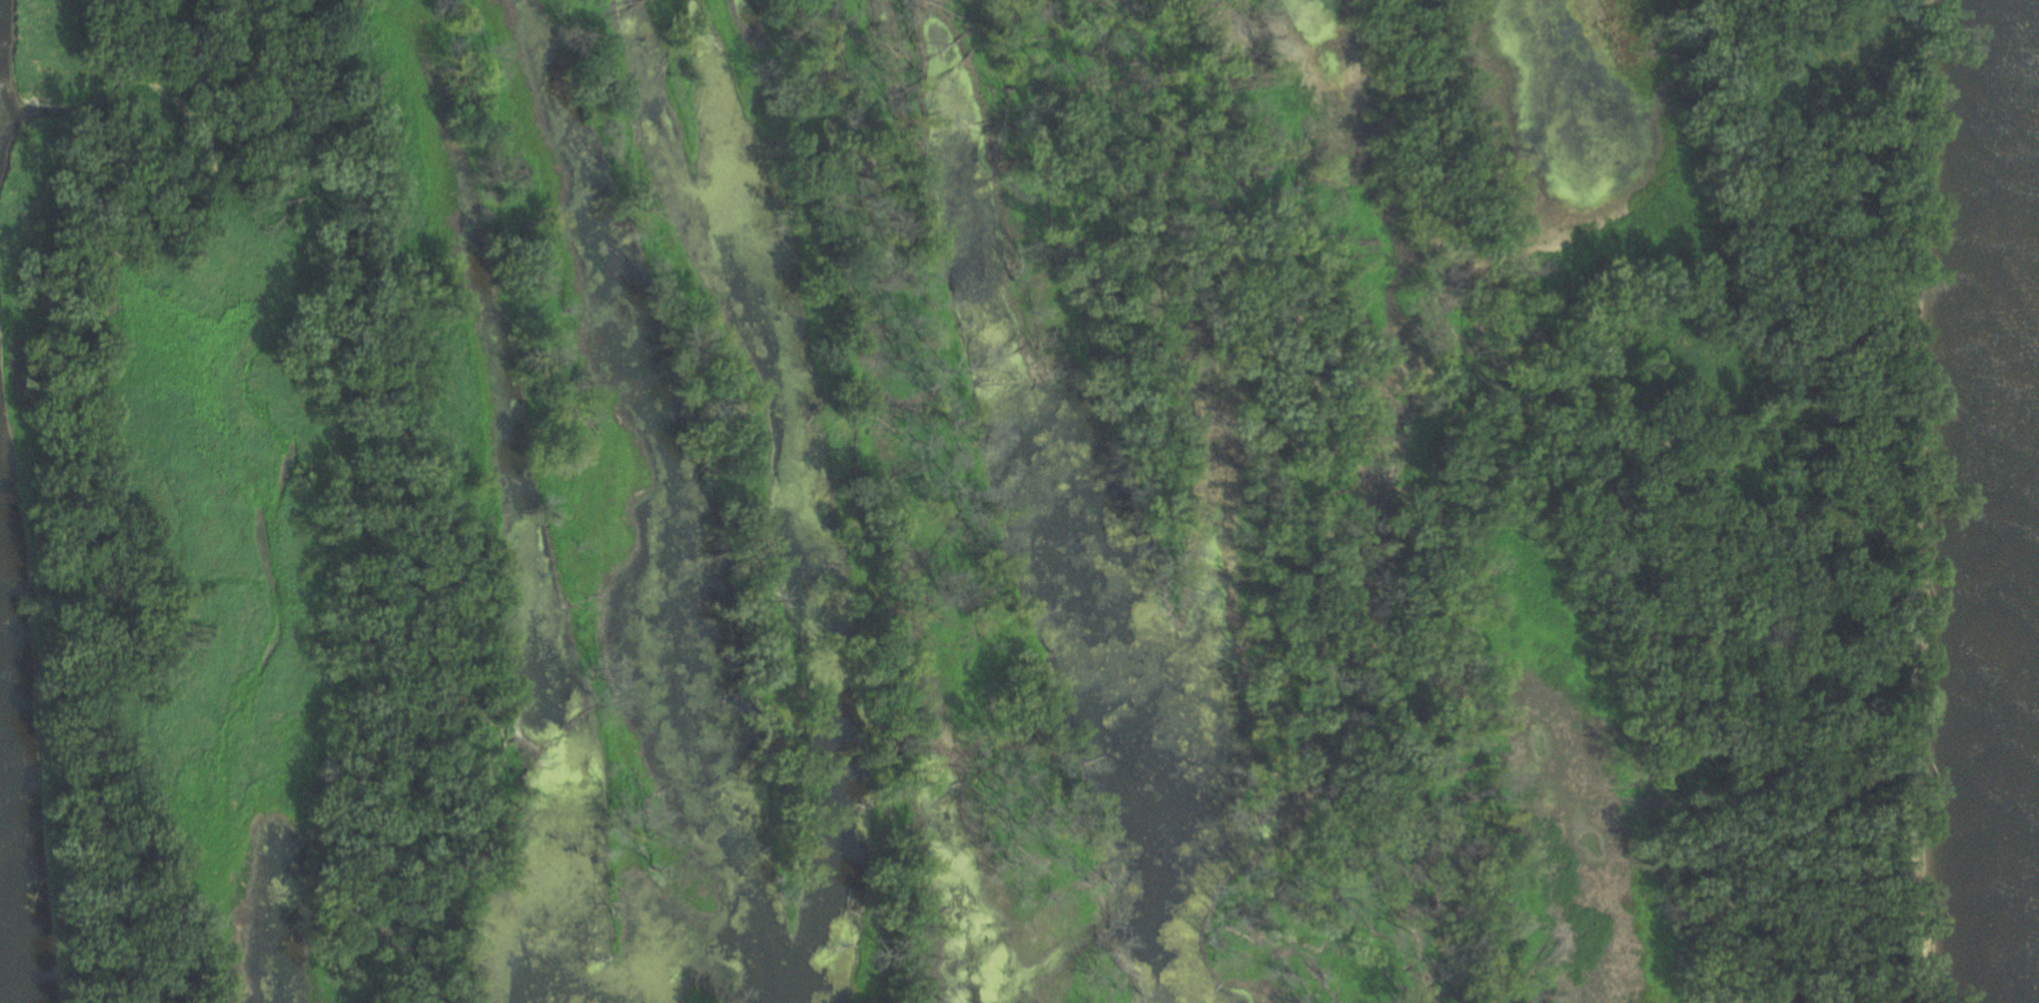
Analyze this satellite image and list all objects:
river: (5, 928)

